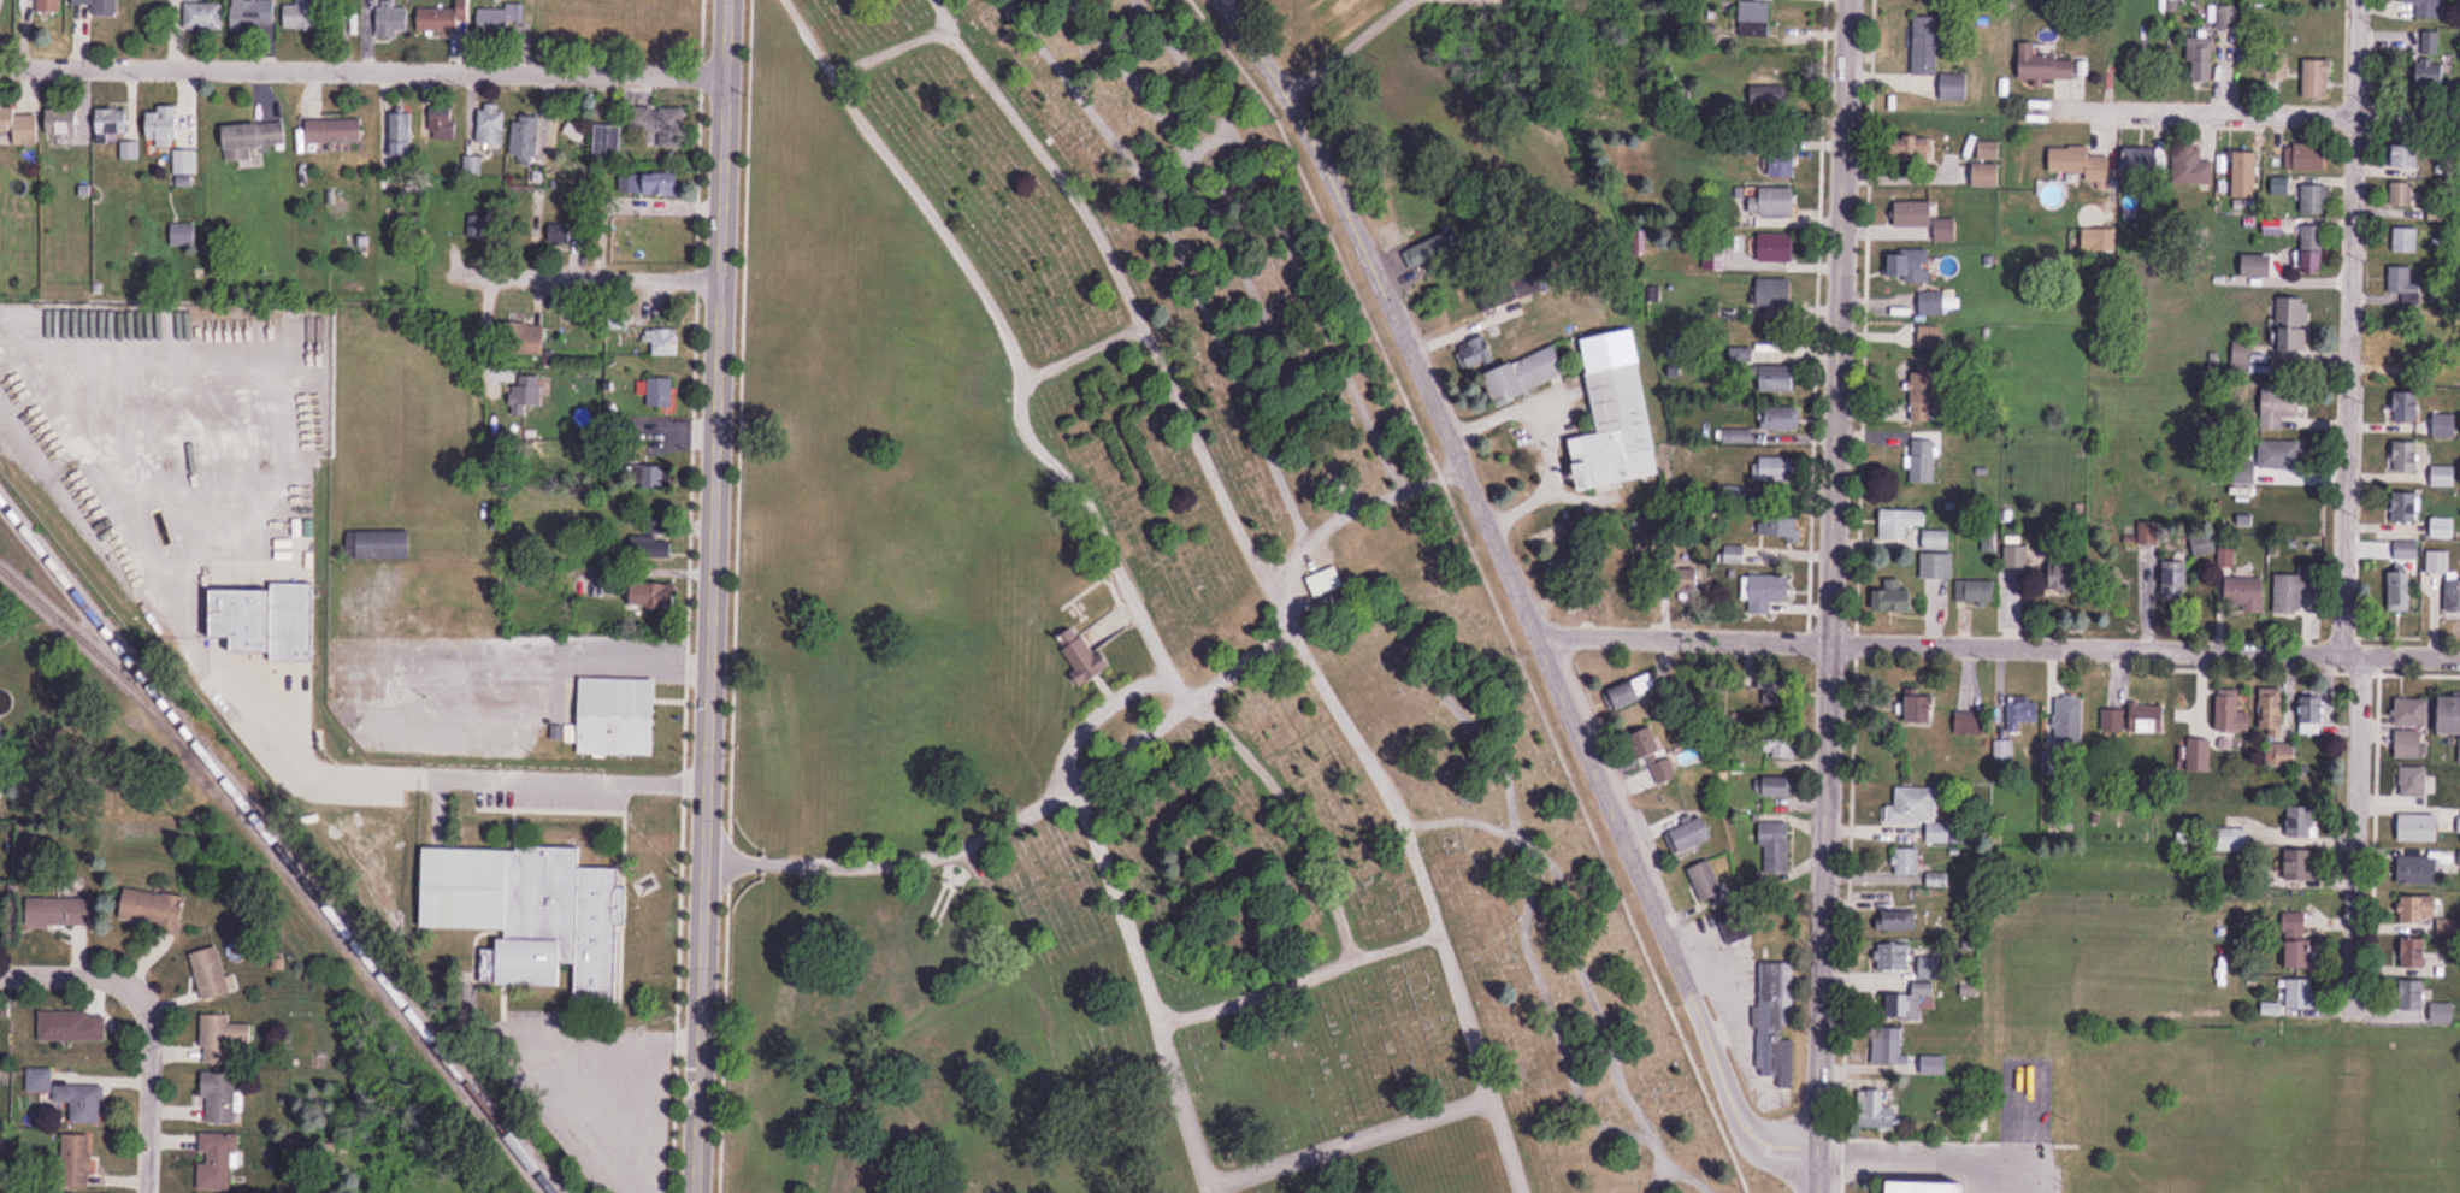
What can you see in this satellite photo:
building: (49, 6)
building: (95, 7)
building: (2427, 8)
building: (253, 13)
building: (302, 14)
building: (203, 16)
building: (444, 17)
building: (1754, 18)
building: (391, 19)
building: (492, 20)
building: (1927, 45)
building: (2214, 52)
building: (2432, 60)
road: (365, 64)
building: (2046, 65)
building: (2318, 78)
building: (1955, 87)
building: (1770, 94)
road: (2258, 112)
building: (64, 122)
building: (112, 123)
building: (164, 123)
building: (442, 124)
building: (491, 125)
building: (656, 125)
building: (20, 126)
building: (335, 130)
building: (402, 134)
building: (252, 138)
building: (526, 140)
building: (607, 142)
building: (1919, 147)
building: (1989, 149)
building: (2311, 156)
building: (2407, 156)
building: (2142, 160)
building: (1783, 163)
building: (2081, 163)
building: (185, 165)
building: (473, 166)
building: (2191, 166)
building: (1987, 175)
building: (2244, 175)
building: (651, 184)
building: (2401, 194)
building: (2313, 200)
building: (1775, 201)
building: (1915, 214)
building: (450, 223)
building: (484, 223)
building: (564, 230)
building: (183, 237)
building: (2405, 241)
building: (1777, 247)
building: (2312, 250)
building: (1428, 253)
building: (1912, 266)
building: (2257, 266)
road: (570, 277)
building: (2400, 280)
building: (1775, 293)
building: (1488, 299)
building: (1931, 303)
building: (2288, 325)
building: (523, 338)
building: (665, 343)
building: (2400, 348)
building: (2242, 360)
building: (1527, 376)
building: (1778, 379)
building: (526, 392)
building: (661, 392)
building: (1925, 394)
building: (2407, 407)
building: (2281, 408)
building: (1616, 417)
building: (1781, 418)
road: (1535, 437)
building: (2283, 455)
building: (2408, 456)
building: (1923, 460)
building: (1775, 468)
building: (654, 477)
building: (2443, 477)
road: (2343, 507)
building: (2406, 507)
building: (1900, 522)
building: (1778, 527)
building: (2442, 527)
building: (1937, 539)
building: (379, 544)
building: (651, 548)
building: (2406, 549)
building: (1734, 554)
building: (2016, 557)
building: (2437, 561)
building: (1936, 566)
building: (1569, 567)
building: (303, 573)
building: (2067, 577)
building: (2176, 580)
building: (1326, 583)
building: (2400, 590)
building: (1976, 591)
road: (1516, 592)
building: (2294, 592)
building: (1766, 593)
building: (2246, 593)
building: (659, 595)
road: (713, 596)
road: (1825, 596)
building: (2452, 596)
building: (1900, 597)
building: (250, 618)
road: (1680, 632)
road: (2141, 645)
railway: (102, 655)
building: (1081, 655)
park: (1131, 674)
building: (1634, 692)
building: (1776, 692)
building: (2271, 709)
building: (1923, 710)
building: (2230, 711)
building: (2411, 711)
building: (2023, 713)
building: (2312, 714)
building: (2452, 715)
building: (619, 716)
building: (2132, 719)
building: (2069, 722)
building: (1970, 724)
road: (1133, 744)
building: (2459, 751)
building: (2281, 755)
building: (1656, 756)
road: (453, 773)
building: (2411, 781)
building: (1775, 787)
building: (1919, 813)
road: (1296, 816)
building: (2301, 821)
building: (2459, 825)
building: (2419, 827)
building: (1692, 837)
building: (2231, 839)
railway: (277, 845)
building: (1775, 845)
building: (1906, 862)
building: (2302, 864)
building: (2417, 870)
building: (1709, 881)
road: (1427, 899)
building: (153, 906)
building: (2419, 908)
building: (59, 909)
building: (532, 911)
building: (1898, 920)
building: (1735, 925)
building: (2299, 941)
building: (2414, 952)
building: (1893, 957)
building: (1930, 967)
road: (64, 970)
building: (210, 971)
road: (1299, 979)
road: (1146, 987)
building: (2303, 993)
building: (2413, 996)
building: (1912, 1003)
building: (2442, 1012)
building: (1777, 1024)
building: (73, 1026)
building: (222, 1035)
building: (1889, 1047)
building: (39, 1080)
road: (147, 1083)
building: (219, 1097)
building: (83, 1102)
building: (1878, 1110)
road: (1349, 1141)
building: (77, 1159)
road: (1948, 1159)
building: (216, 1160)
building: (1937, 1186)

